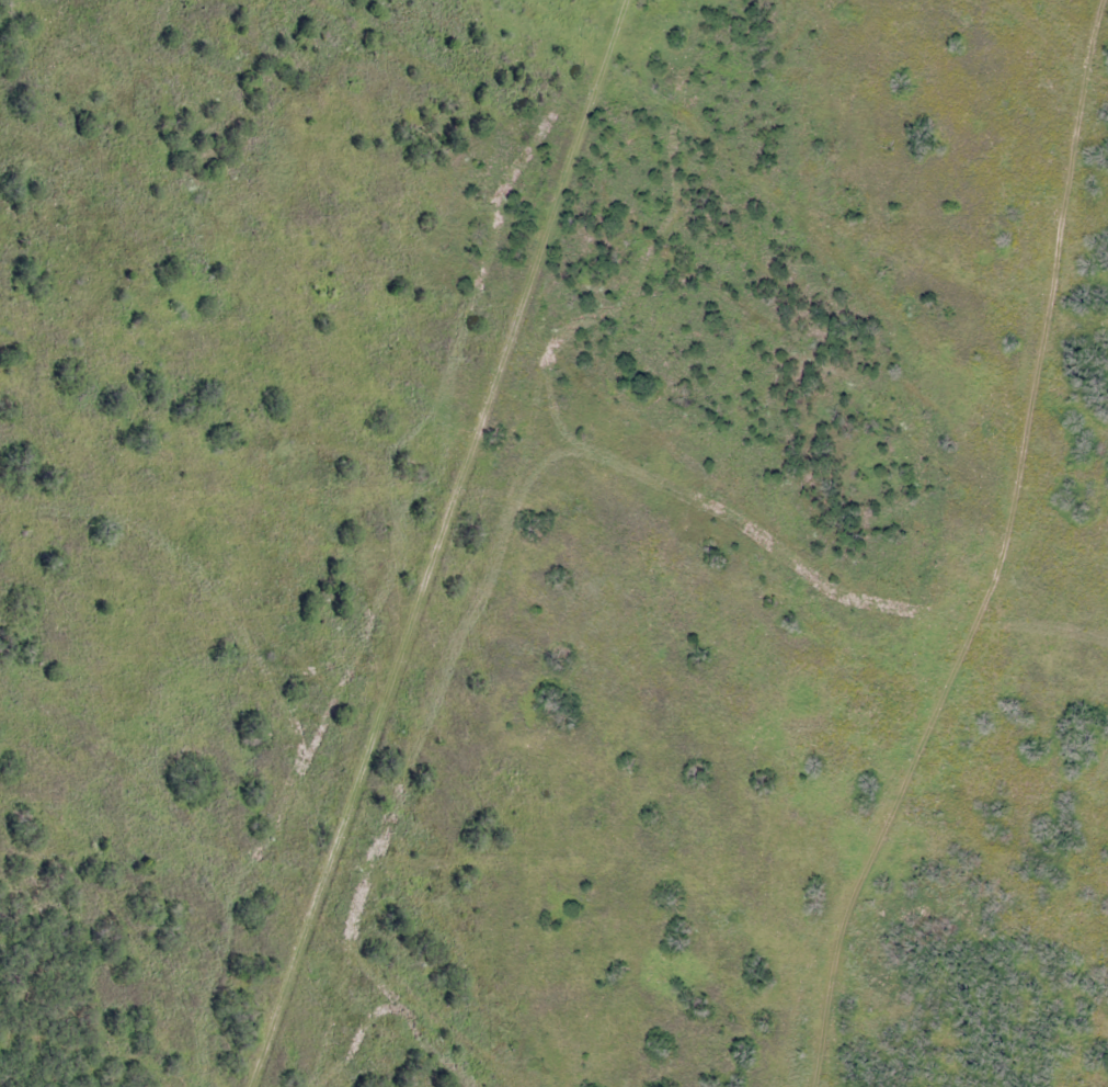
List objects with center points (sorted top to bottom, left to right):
road: (1005, 577)

